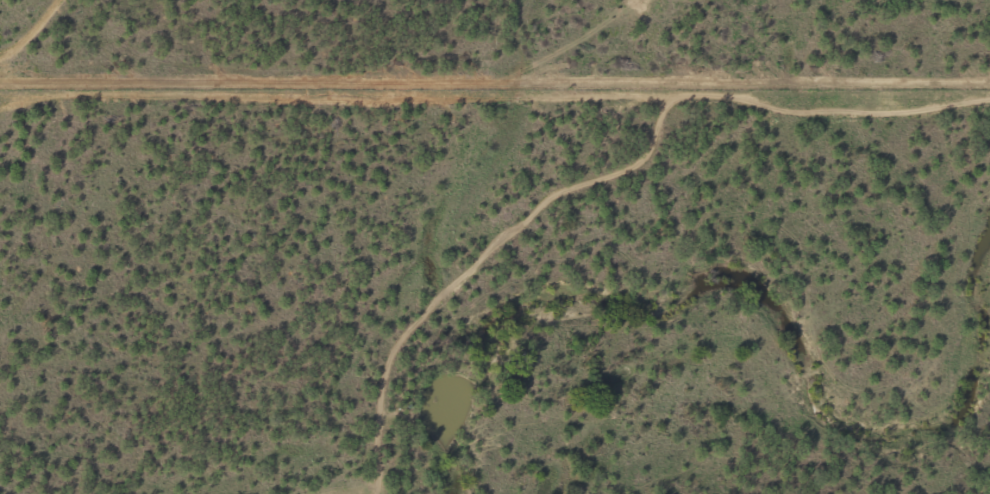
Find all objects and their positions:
road: (585, 160)

